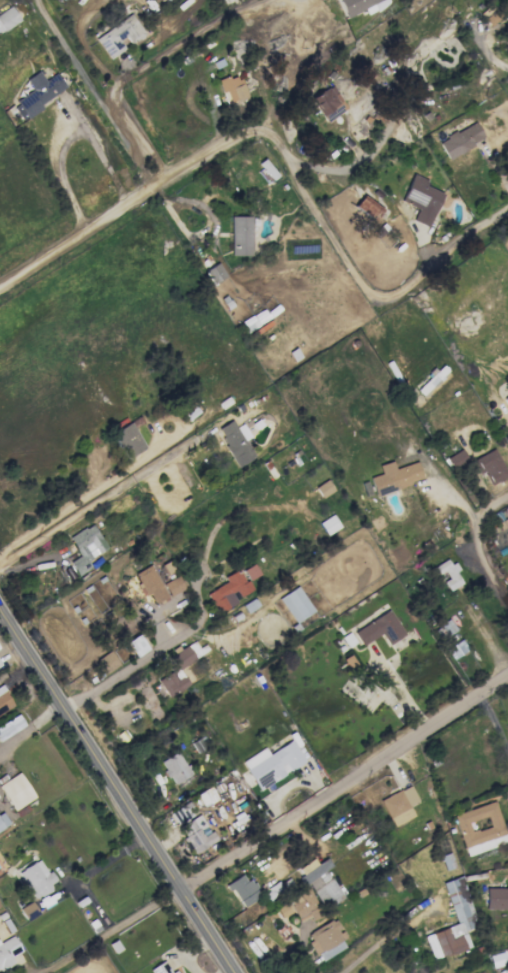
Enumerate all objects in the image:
building: (166, 0)
building: (361, 5)
building: (489, 13)
building: (8, 17)
building: (506, 18)
building: (506, 33)
building: (119, 34)
road: (174, 46)
building: (219, 62)
building: (232, 86)
building: (38, 92)
road: (93, 93)
building: (327, 102)
road: (66, 137)
building: (460, 140)
road: (342, 169)
building: (421, 199)
road: (121, 202)
building: (367, 207)
building: (240, 235)
building: (214, 273)
road: (357, 277)
building: (433, 381)
building: (505, 400)
building: (129, 437)
building: (235, 442)
building: (455, 458)
building: (490, 466)
building: (394, 476)
building: (323, 488)
road: (102, 496)
road: (482, 546)
building: (85, 548)
building: (448, 573)
building: (149, 584)
building: (173, 585)
building: (231, 588)
building: (295, 604)
building: (379, 629)
building: (444, 629)
building: (454, 650)
building: (107, 661)
road: (131, 668)
building: (176, 672)
road: (397, 693)
building: (4, 700)
building: (10, 726)
road: (30, 727)
road: (492, 736)
building: (272, 763)
building: (174, 767)
road: (345, 783)
building: (16, 791)
road: (117, 791)
building: (399, 805)
building: (181, 813)
building: (3, 822)
building: (479, 828)
building: (196, 833)
building: (35, 878)
building: (320, 882)
building: (243, 890)
building: (496, 898)
building: (458, 903)
building: (304, 905)
building: (282, 910)
road: (111, 930)
building: (325, 939)
road: (375, 944)
building: (7, 951)
building: (161, 968)

